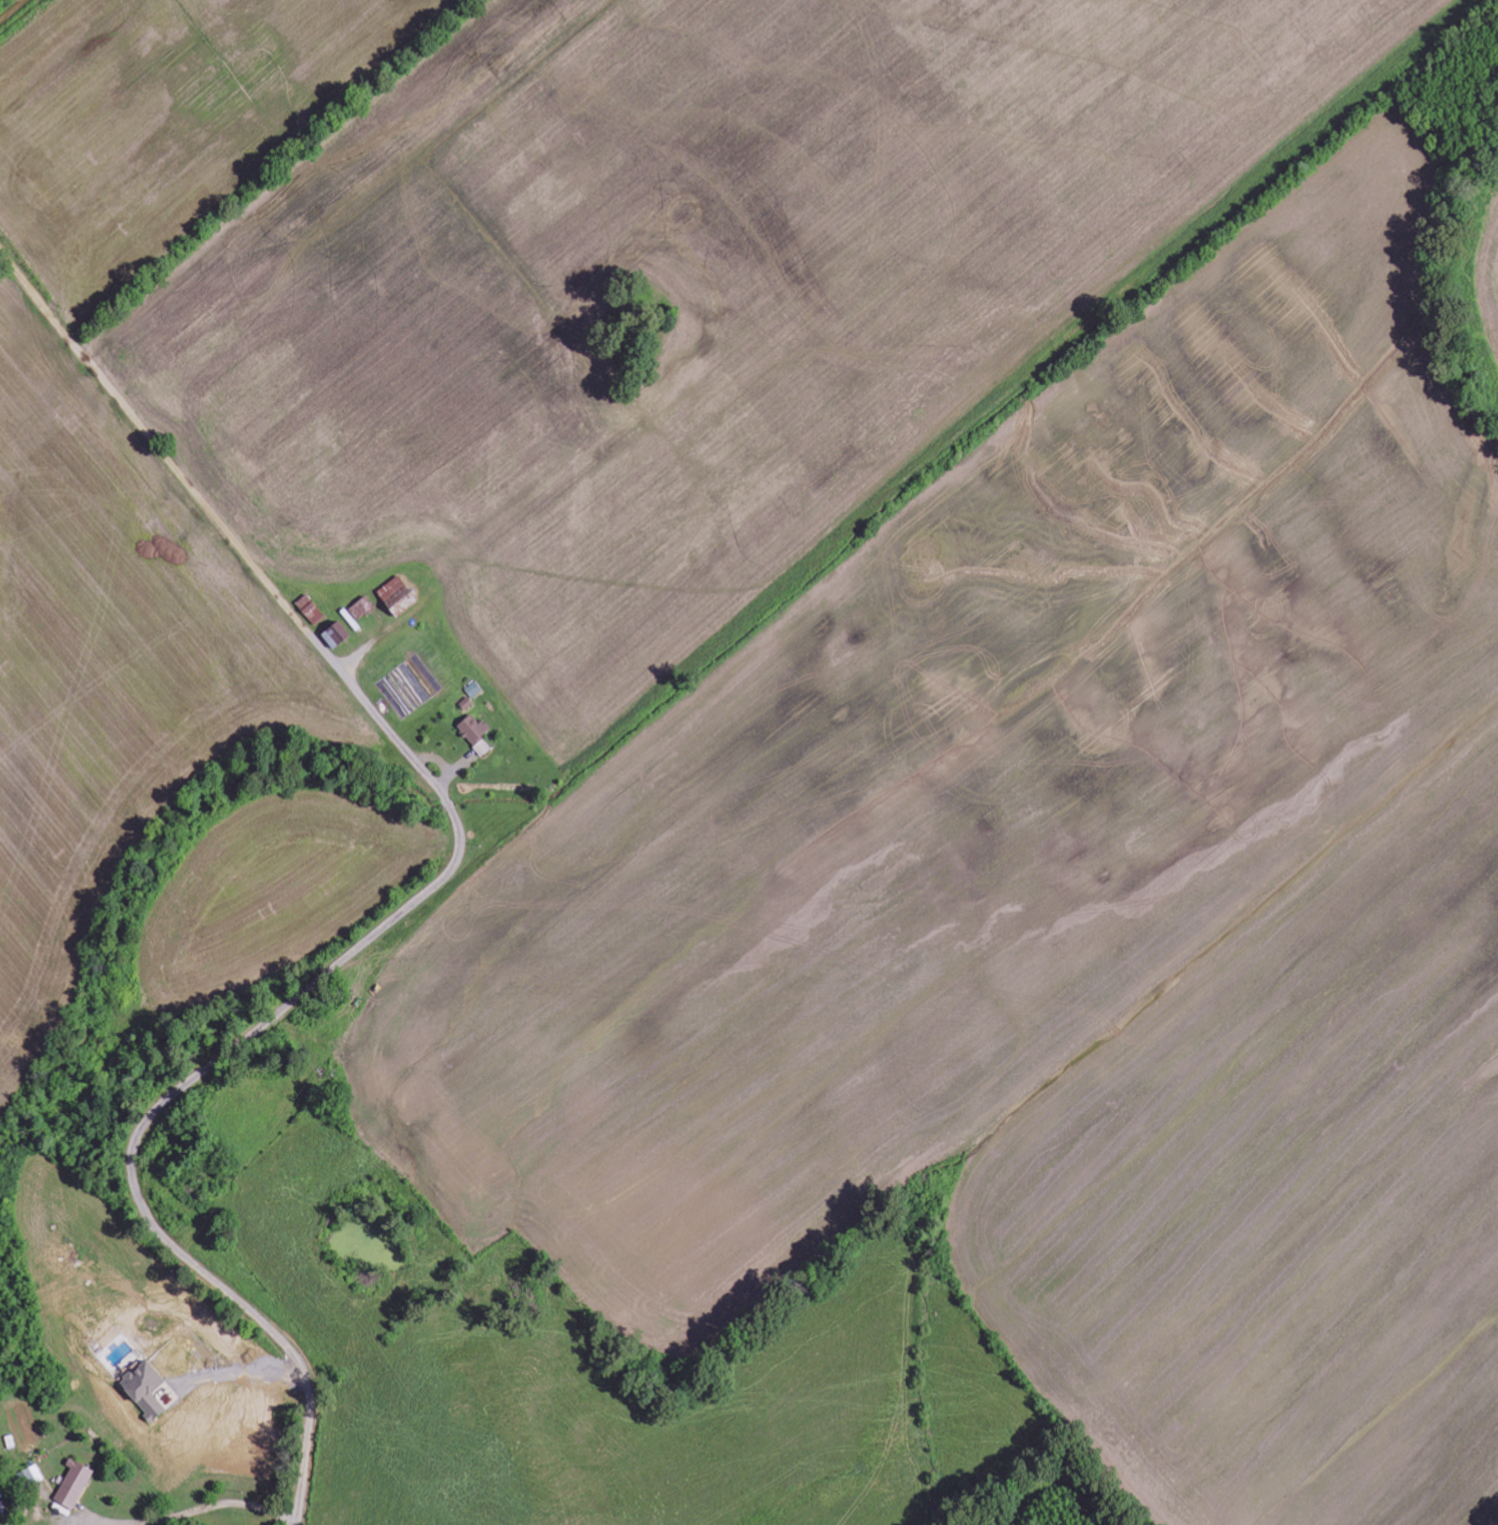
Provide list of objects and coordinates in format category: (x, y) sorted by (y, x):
road: (10, 10)
building: (397, 595)
building: (336, 634)
building: (474, 731)
road: (422, 898)
building: (145, 1389)
building: (74, 1484)
road: (190, 1490)

